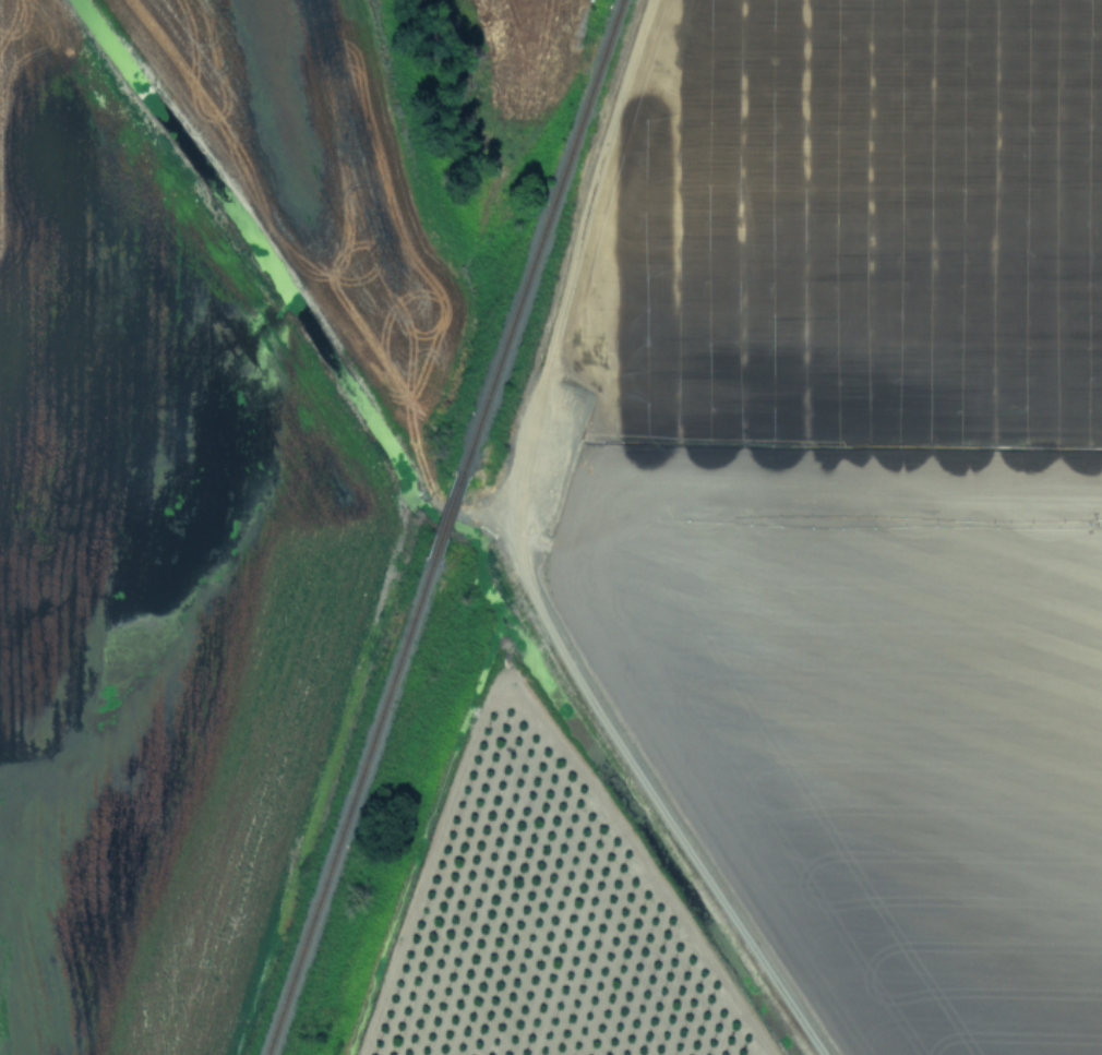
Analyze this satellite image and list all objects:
railway: (544, 237)
crop: (551, 527)
railway: (448, 532)
railway: (351, 823)

